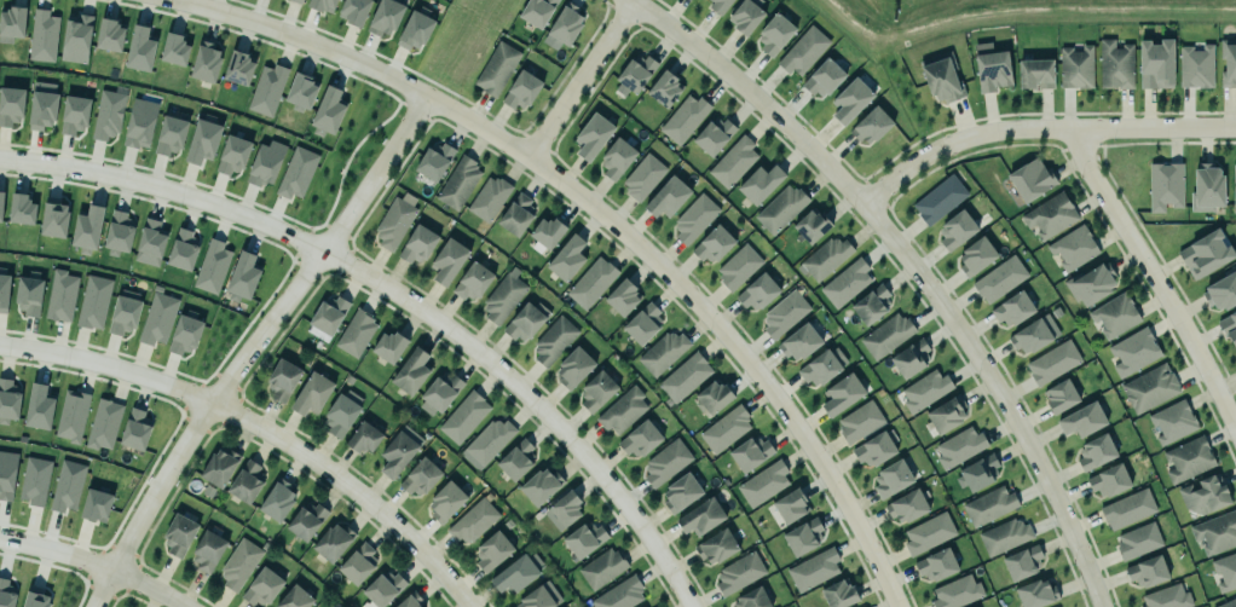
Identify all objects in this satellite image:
building: (300, 0)
building: (295, 1)
building: (319, 4)
building: (716, 5)
building: (353, 11)
building: (538, 12)
building: (383, 16)
building: (744, 16)
building: (12, 17)
building: (566, 24)
building: (415, 31)
building: (42, 34)
building: (109, 35)
building: (774, 35)
building: (76, 39)
building: (139, 45)
building: (174, 50)
building: (803, 52)
building: (206, 62)
building: (1226, 62)
building: (1114, 64)
building: (1154, 64)
building: (237, 65)
building: (1074, 67)
building: (1194, 67)
building: (495, 68)
building: (990, 70)
building: (634, 73)
building: (1033, 74)
building: (938, 76)
building: (821, 77)
road: (581, 80)
building: (663, 86)
building: (266, 89)
building: (522, 89)
building: (301, 92)
building: (850, 100)
building: (10, 104)
building: (40, 105)
building: (328, 111)
building: (106, 112)
building: (73, 114)
building: (682, 117)
building: (139, 121)
building: (870, 125)
road: (1036, 129)
building: (171, 135)
building: (590, 135)
building: (714, 137)
building: (203, 141)
building: (233, 155)
building: (616, 158)
building: (434, 162)
building: (733, 162)
building: (265, 163)
building: (295, 172)
building: (642, 177)
building: (1030, 179)
building: (758, 181)
building: (458, 184)
building: (1165, 186)
building: (1234, 187)
building: (1205, 189)
building: (487, 196)
building: (665, 197)
building: (937, 198)
building: (1, 206)
building: (779, 208)
building: (19, 209)
building: (516, 214)
building: (1050, 215)
building: (694, 218)
building: (54, 219)
road: (608, 219)
building: (392, 221)
building: (86, 226)
building: (809, 226)
building: (954, 229)
building: (119, 232)
building: (545, 232)
building: (150, 243)
building: (418, 244)
building: (714, 245)
building: (1073, 248)
building: (183, 250)
building: (566, 254)
building: (1203, 254)
building: (974, 255)
building: (447, 256)
building: (825, 258)
building: (210, 266)
road: (912, 266)
building: (738, 267)
building: (242, 278)
building: (998, 278)
building: (473, 282)
building: (590, 282)
road: (1150, 282)
building: (845, 283)
building: (1092, 284)
building: (4, 289)
building: (758, 293)
building: (1220, 293)
building: (29, 295)
building: (60, 296)
road: (402, 296)
building: (501, 296)
building: (623, 297)
building: (92, 301)
building: (872, 305)
building: (1011, 308)
building: (327, 311)
building: (125, 313)
building: (782, 313)
building: (1114, 316)
building: (156, 317)
building: (522, 320)
building: (643, 323)
building: (1229, 328)
building: (356, 330)
building: (181, 335)
building: (885, 335)
building: (1034, 335)
building: (553, 337)
building: (389, 342)
building: (799, 343)
road: (253, 346)
building: (662, 351)
building: (1132, 351)
building: (1235, 355)
building: (908, 358)
building: (1051, 362)
building: (821, 365)
building: (410, 368)
building: (571, 368)
building: (683, 375)
building: (281, 380)
building: (1148, 387)
building: (925, 389)
building: (312, 391)
building: (595, 391)
building: (440, 392)
building: (714, 393)
building: (839, 394)
building: (1059, 397)
building: (8, 400)
building: (39, 407)
building: (623, 409)
building: (70, 414)
building: (462, 414)
building: (339, 415)
building: (946, 415)
building: (857, 421)
building: (1081, 421)
building: (1169, 421)
building: (104, 424)
building: (723, 426)
road: (261, 427)
building: (135, 428)
building: (641, 434)
building: (364, 438)
building: (486, 439)
building: (957, 446)
building: (873, 447)
building: (750, 452)
building: (1093, 452)
building: (395, 455)
building: (515, 457)
building: (1188, 459)
building: (665, 462)
building: (215, 468)
building: (7, 474)
building: (977, 474)
building: (417, 476)
building: (890, 479)
building: (33, 481)
building: (762, 481)
building: (1109, 481)
building: (246, 482)
building: (541, 482)
building: (67, 486)
building: (682, 486)
building: (1199, 493)
building: (276, 497)
building: (444, 501)
building: (565, 504)
building: (789, 504)
building: (988, 504)
building: (96, 505)
building: (906, 507)
building: (1127, 509)
building: (305, 516)
building: (700, 518)
building: (472, 520)
building: (926, 532)
building: (1215, 532)
building: (178, 533)
building: (801, 533)
building: (582, 536)
building: (1001, 536)
building: (331, 539)
building: (1138, 540)
building: (716, 548)
building: (490, 550)
building: (207, 551)
building: (356, 562)
building: (1022, 562)
road: (97, 563)
building: (238, 563)
building: (600, 565)
building: (935, 565)
building: (813, 568)
building: (1145, 571)
building: (1224, 571)
building: (739, 573)
building: (513, 574)
building: (261, 585)
building: (383, 586)
building: (618, 592)
building: (955, 592)
building: (6, 594)
building: (837, 594)
building: (1036, 594)
building: (294, 596)
building: (1165, 596)
building: (749, 597)
building: (536, 599)
building: (36, 600)
building: (408, 600)
building: (1226, 602)

